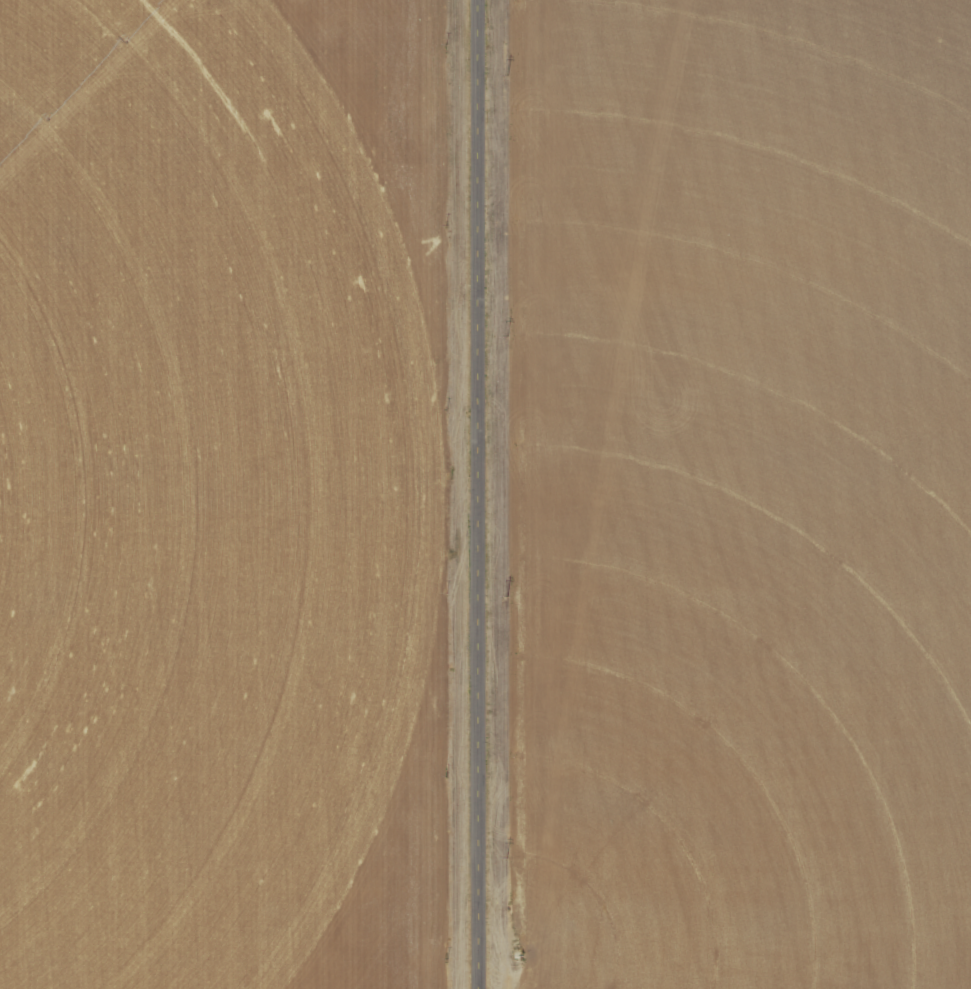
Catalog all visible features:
road: (484, 494)

